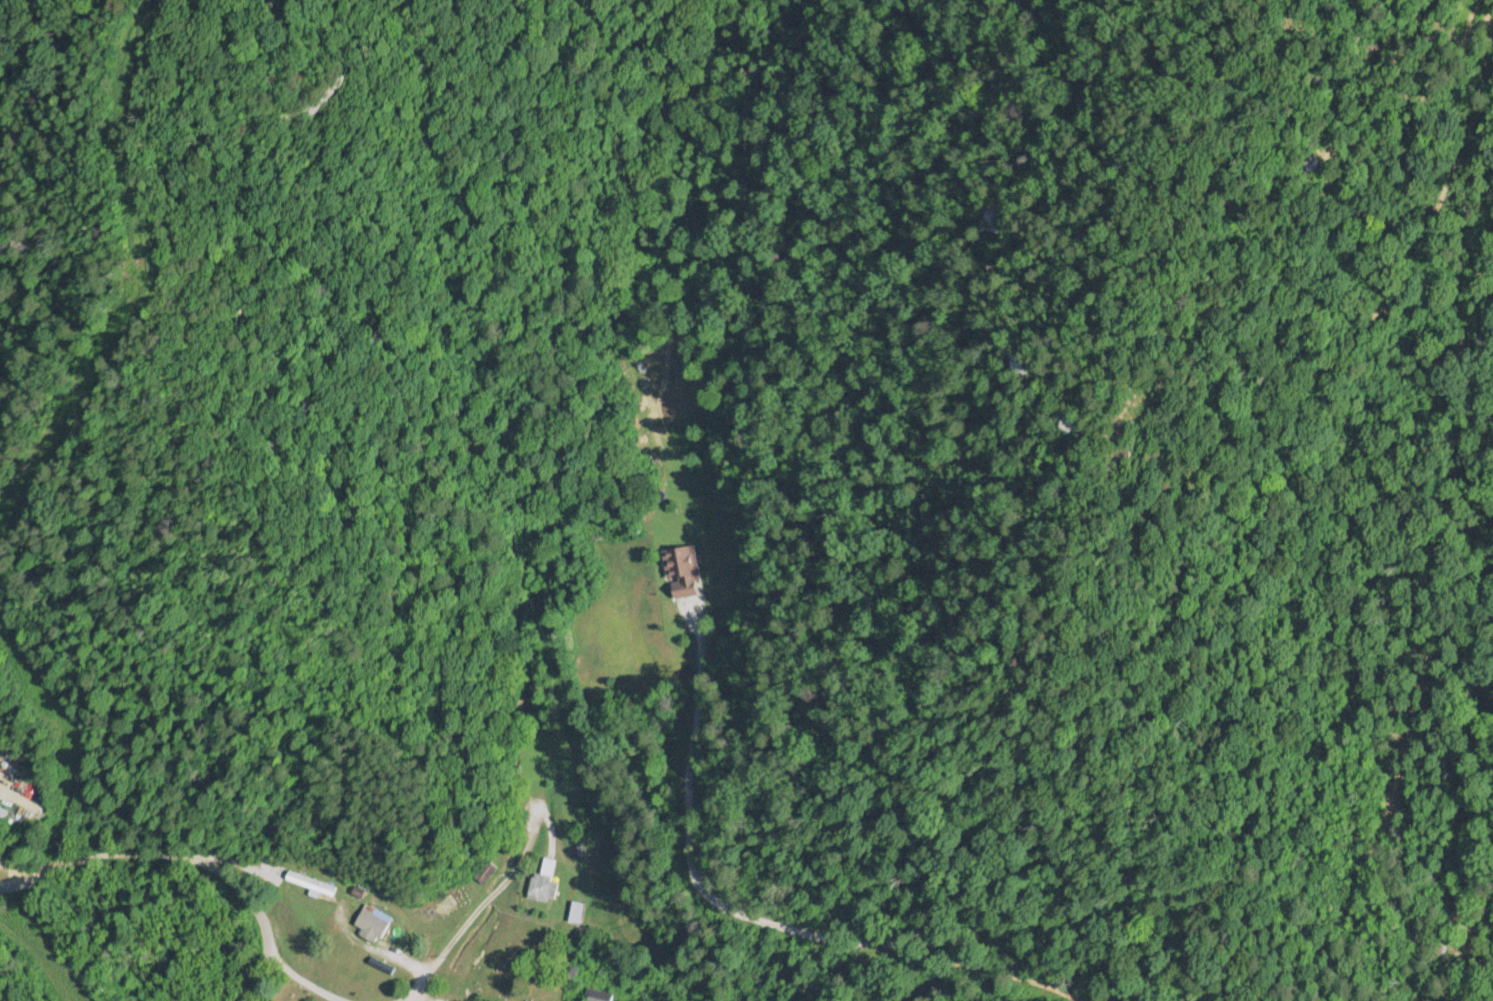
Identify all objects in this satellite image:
road: (179, 839)
road: (402, 980)

